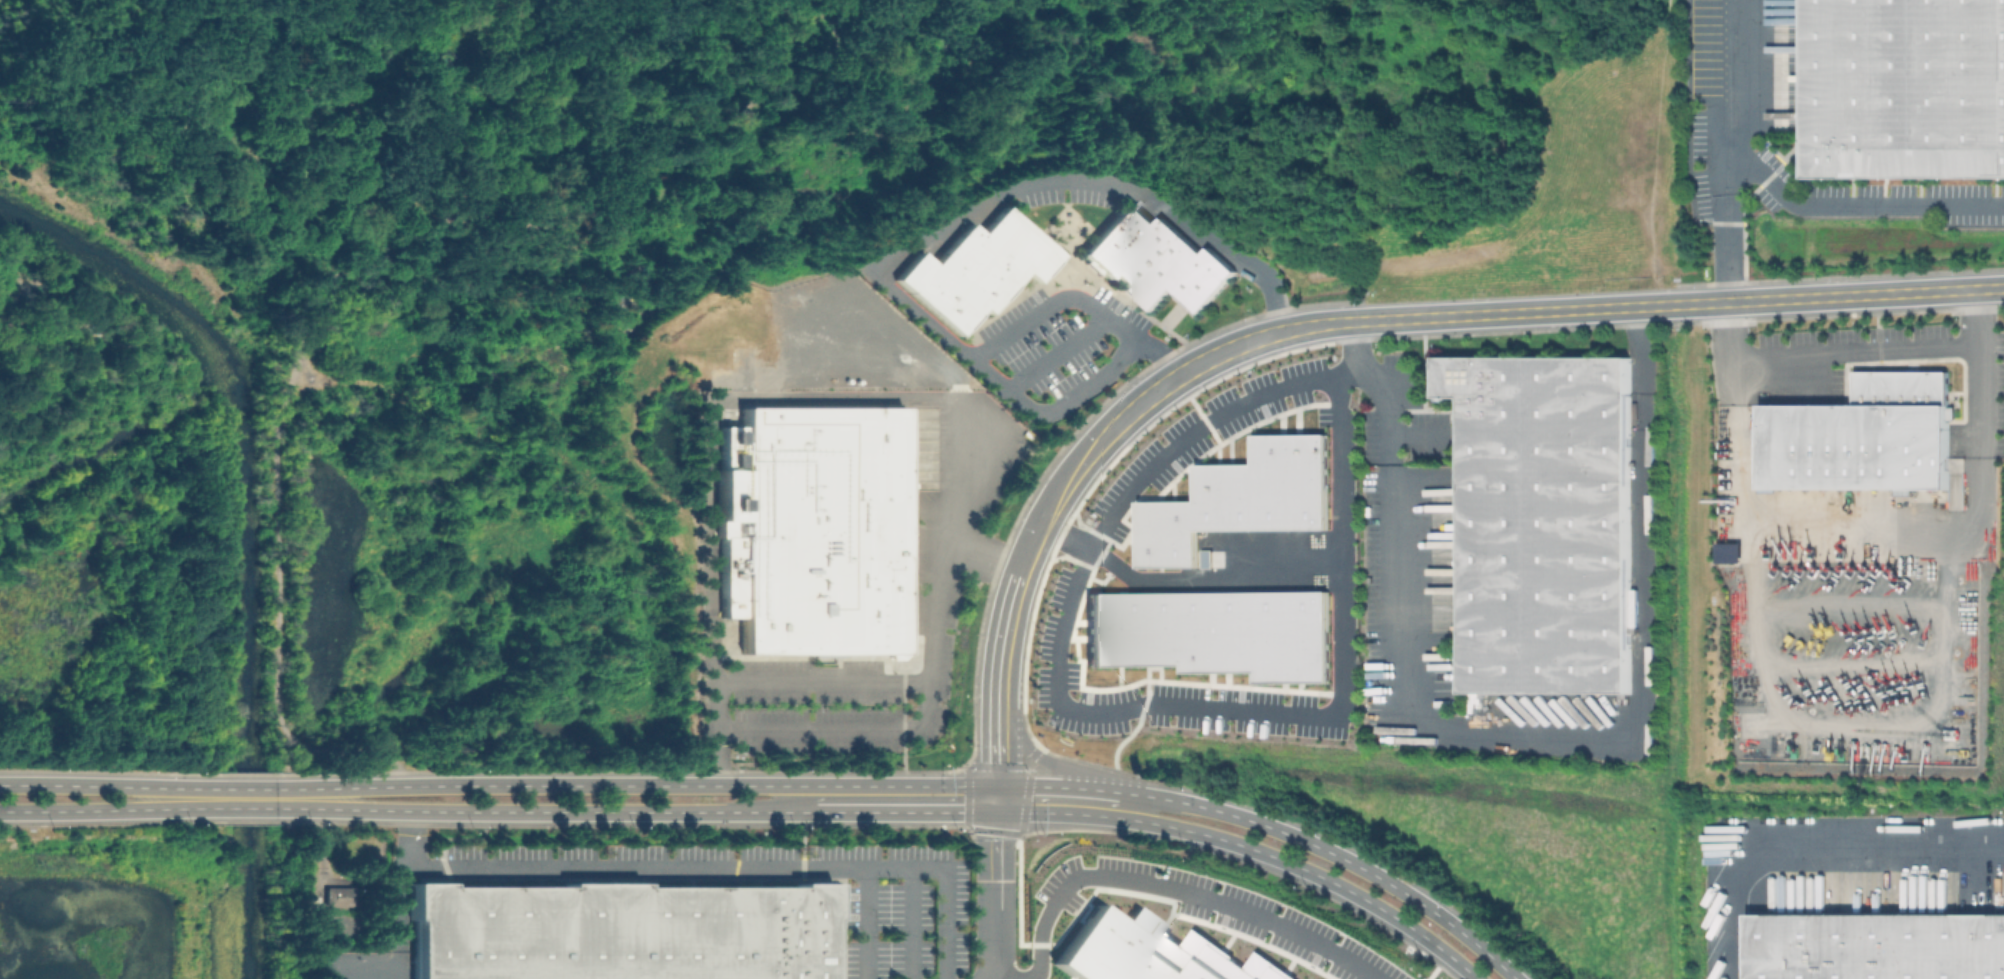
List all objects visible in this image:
building: (1903, 90)
road: (1733, 97)
road: (1858, 205)
road: (913, 245)
building: (1155, 260)
building: (976, 268)
road: (1839, 296)
road: (1051, 303)
road: (1513, 313)
road: (1802, 365)
road: (1384, 386)
road: (1149, 395)
building: (738, 410)
road: (1984, 435)
building: (1862, 436)
building: (736, 449)
building: (1240, 499)
building: (1547, 520)
building: (824, 532)
building: (1728, 551)
road: (1396, 575)
building: (733, 577)
road: (1186, 578)
building: (1215, 632)
road: (1007, 639)
road: (1641, 644)
road: (930, 695)
road: (1118, 706)
road: (1121, 745)
road: (1002, 747)
road: (718, 758)
road: (905, 758)
road: (1048, 760)
road: (88, 785)
road: (673, 786)
traffic signals: (1001, 786)
road: (1062, 787)
road: (260, 789)
road: (999, 799)
road: (261, 808)
road: (88, 810)
road: (581, 812)
road: (907, 812)
traffic signals: (998, 812)
road: (320, 814)
road: (248, 819)
road: (88, 820)
road: (1809, 836)
road: (462, 838)
road: (804, 839)
road: (1253, 849)
road: (1334, 854)
road: (705, 867)
road: (1176, 890)
road: (996, 895)
building: (337, 896)
road: (318, 900)
road: (866, 923)
building: (621, 931)
building: (1874, 946)
building: (1152, 952)
road: (400, 965)

